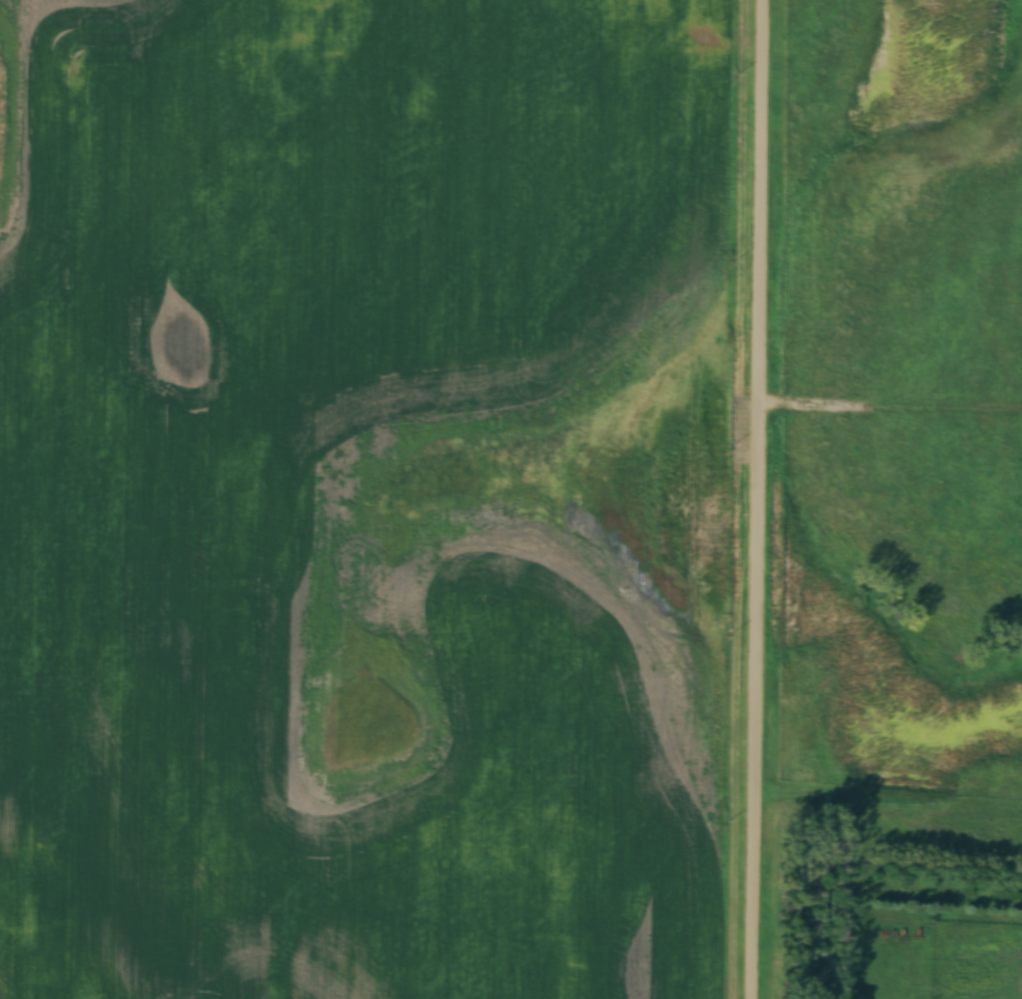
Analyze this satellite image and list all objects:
road: (758, 499)

